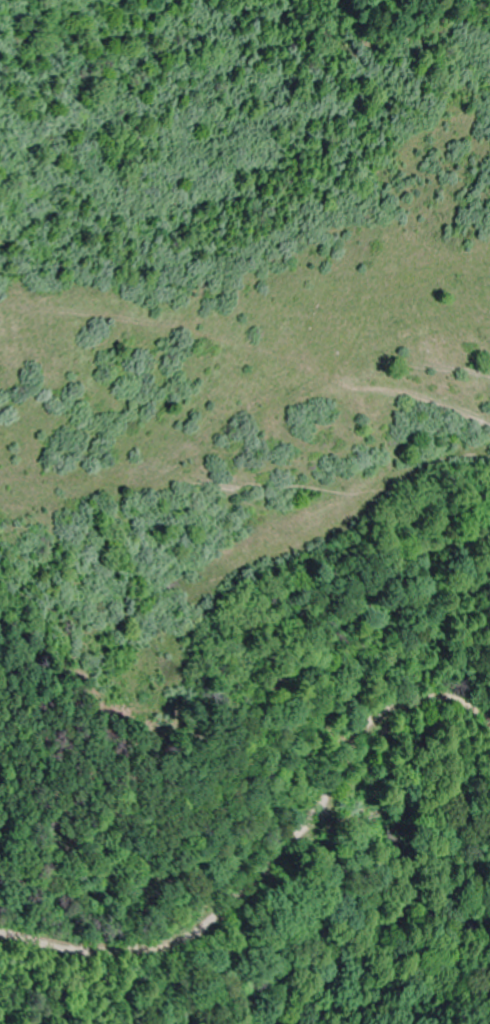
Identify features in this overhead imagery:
road: (16, 746)
road: (270, 807)

